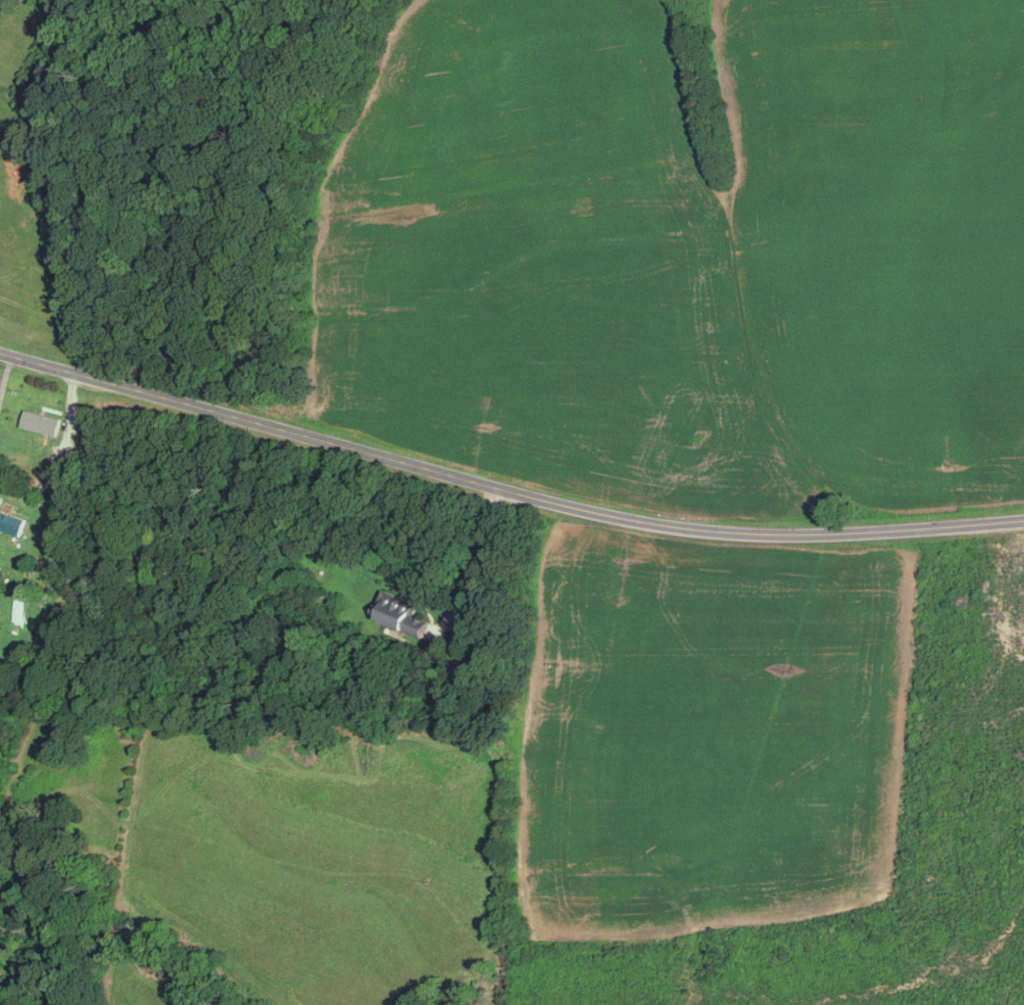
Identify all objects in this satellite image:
road: (6, 374)
building: (48, 422)
road: (70, 422)
building: (44, 440)
road: (505, 486)
building: (12, 520)
road: (480, 554)
building: (21, 600)
building: (405, 612)

